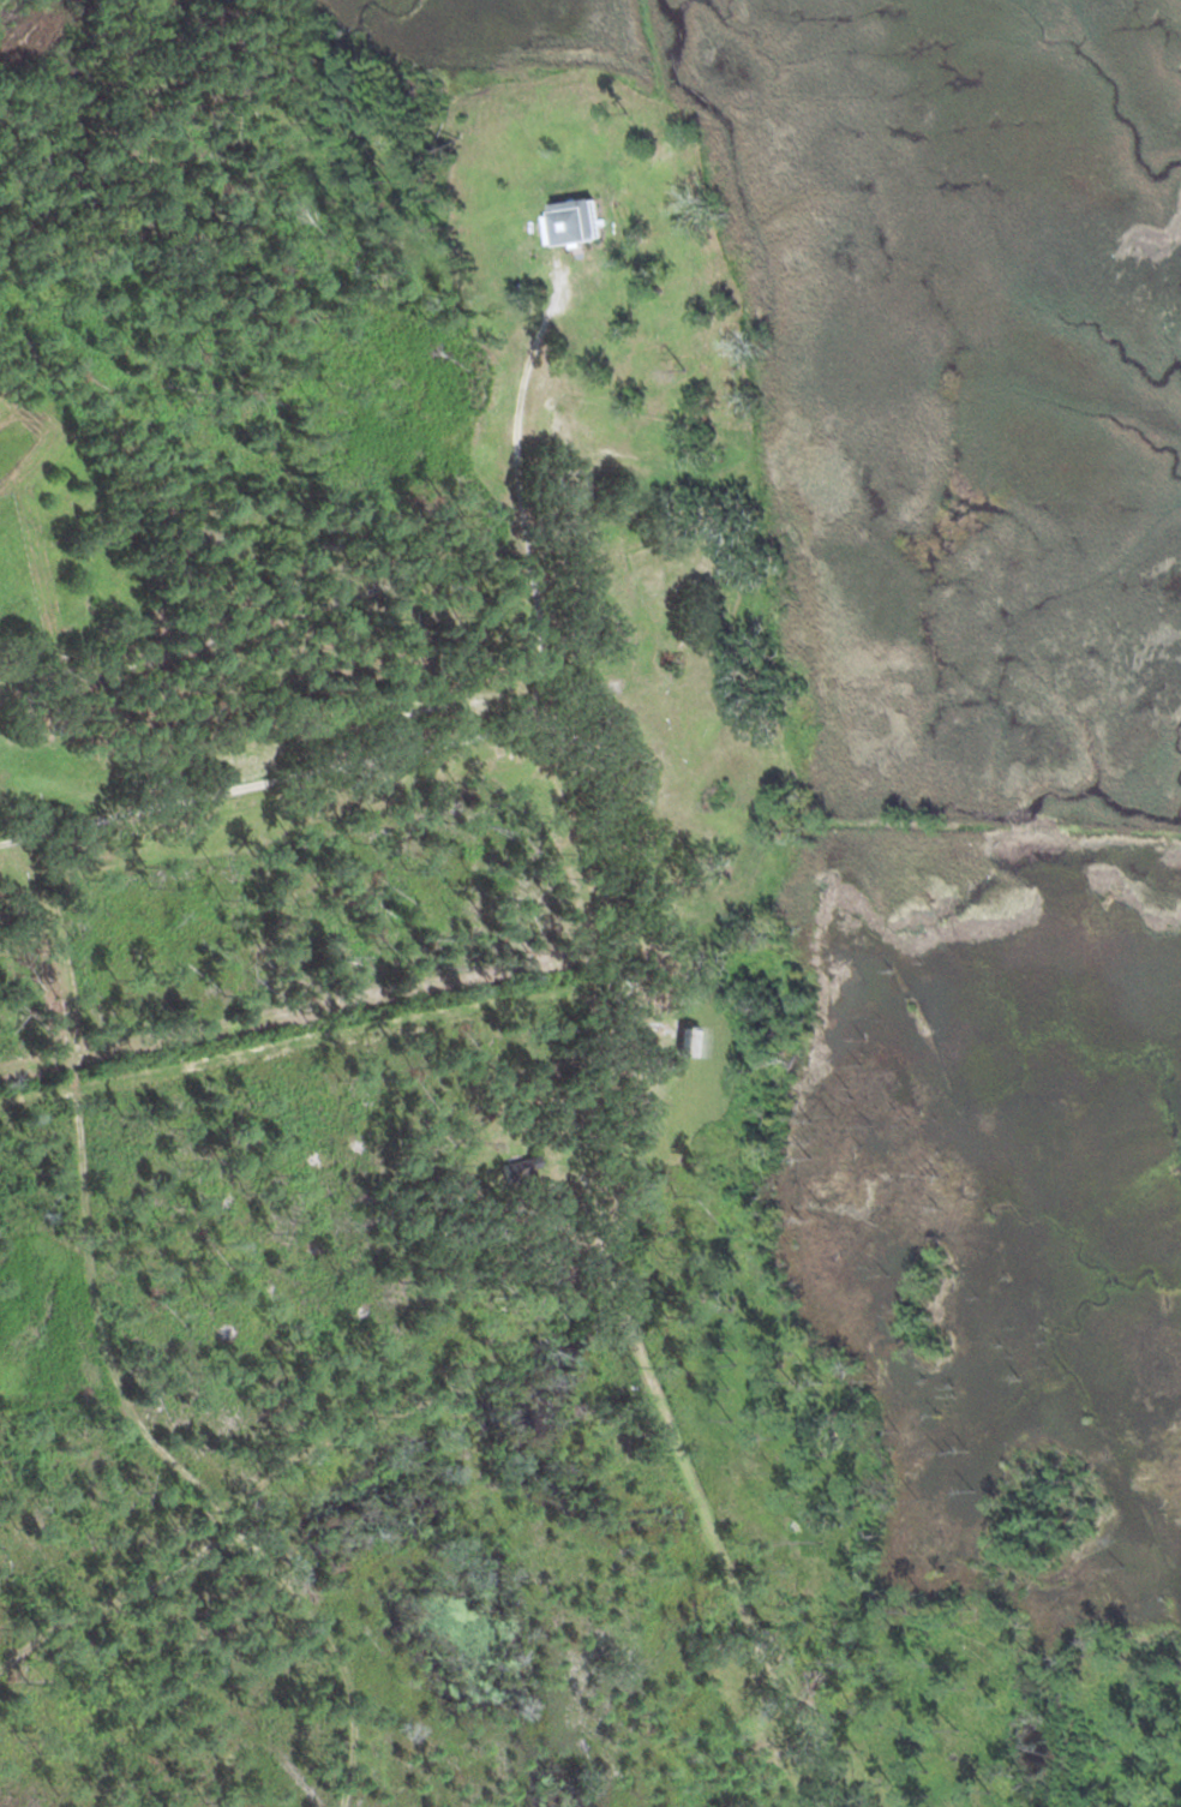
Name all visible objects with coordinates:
building: (619, 558)
road: (663, 987)

